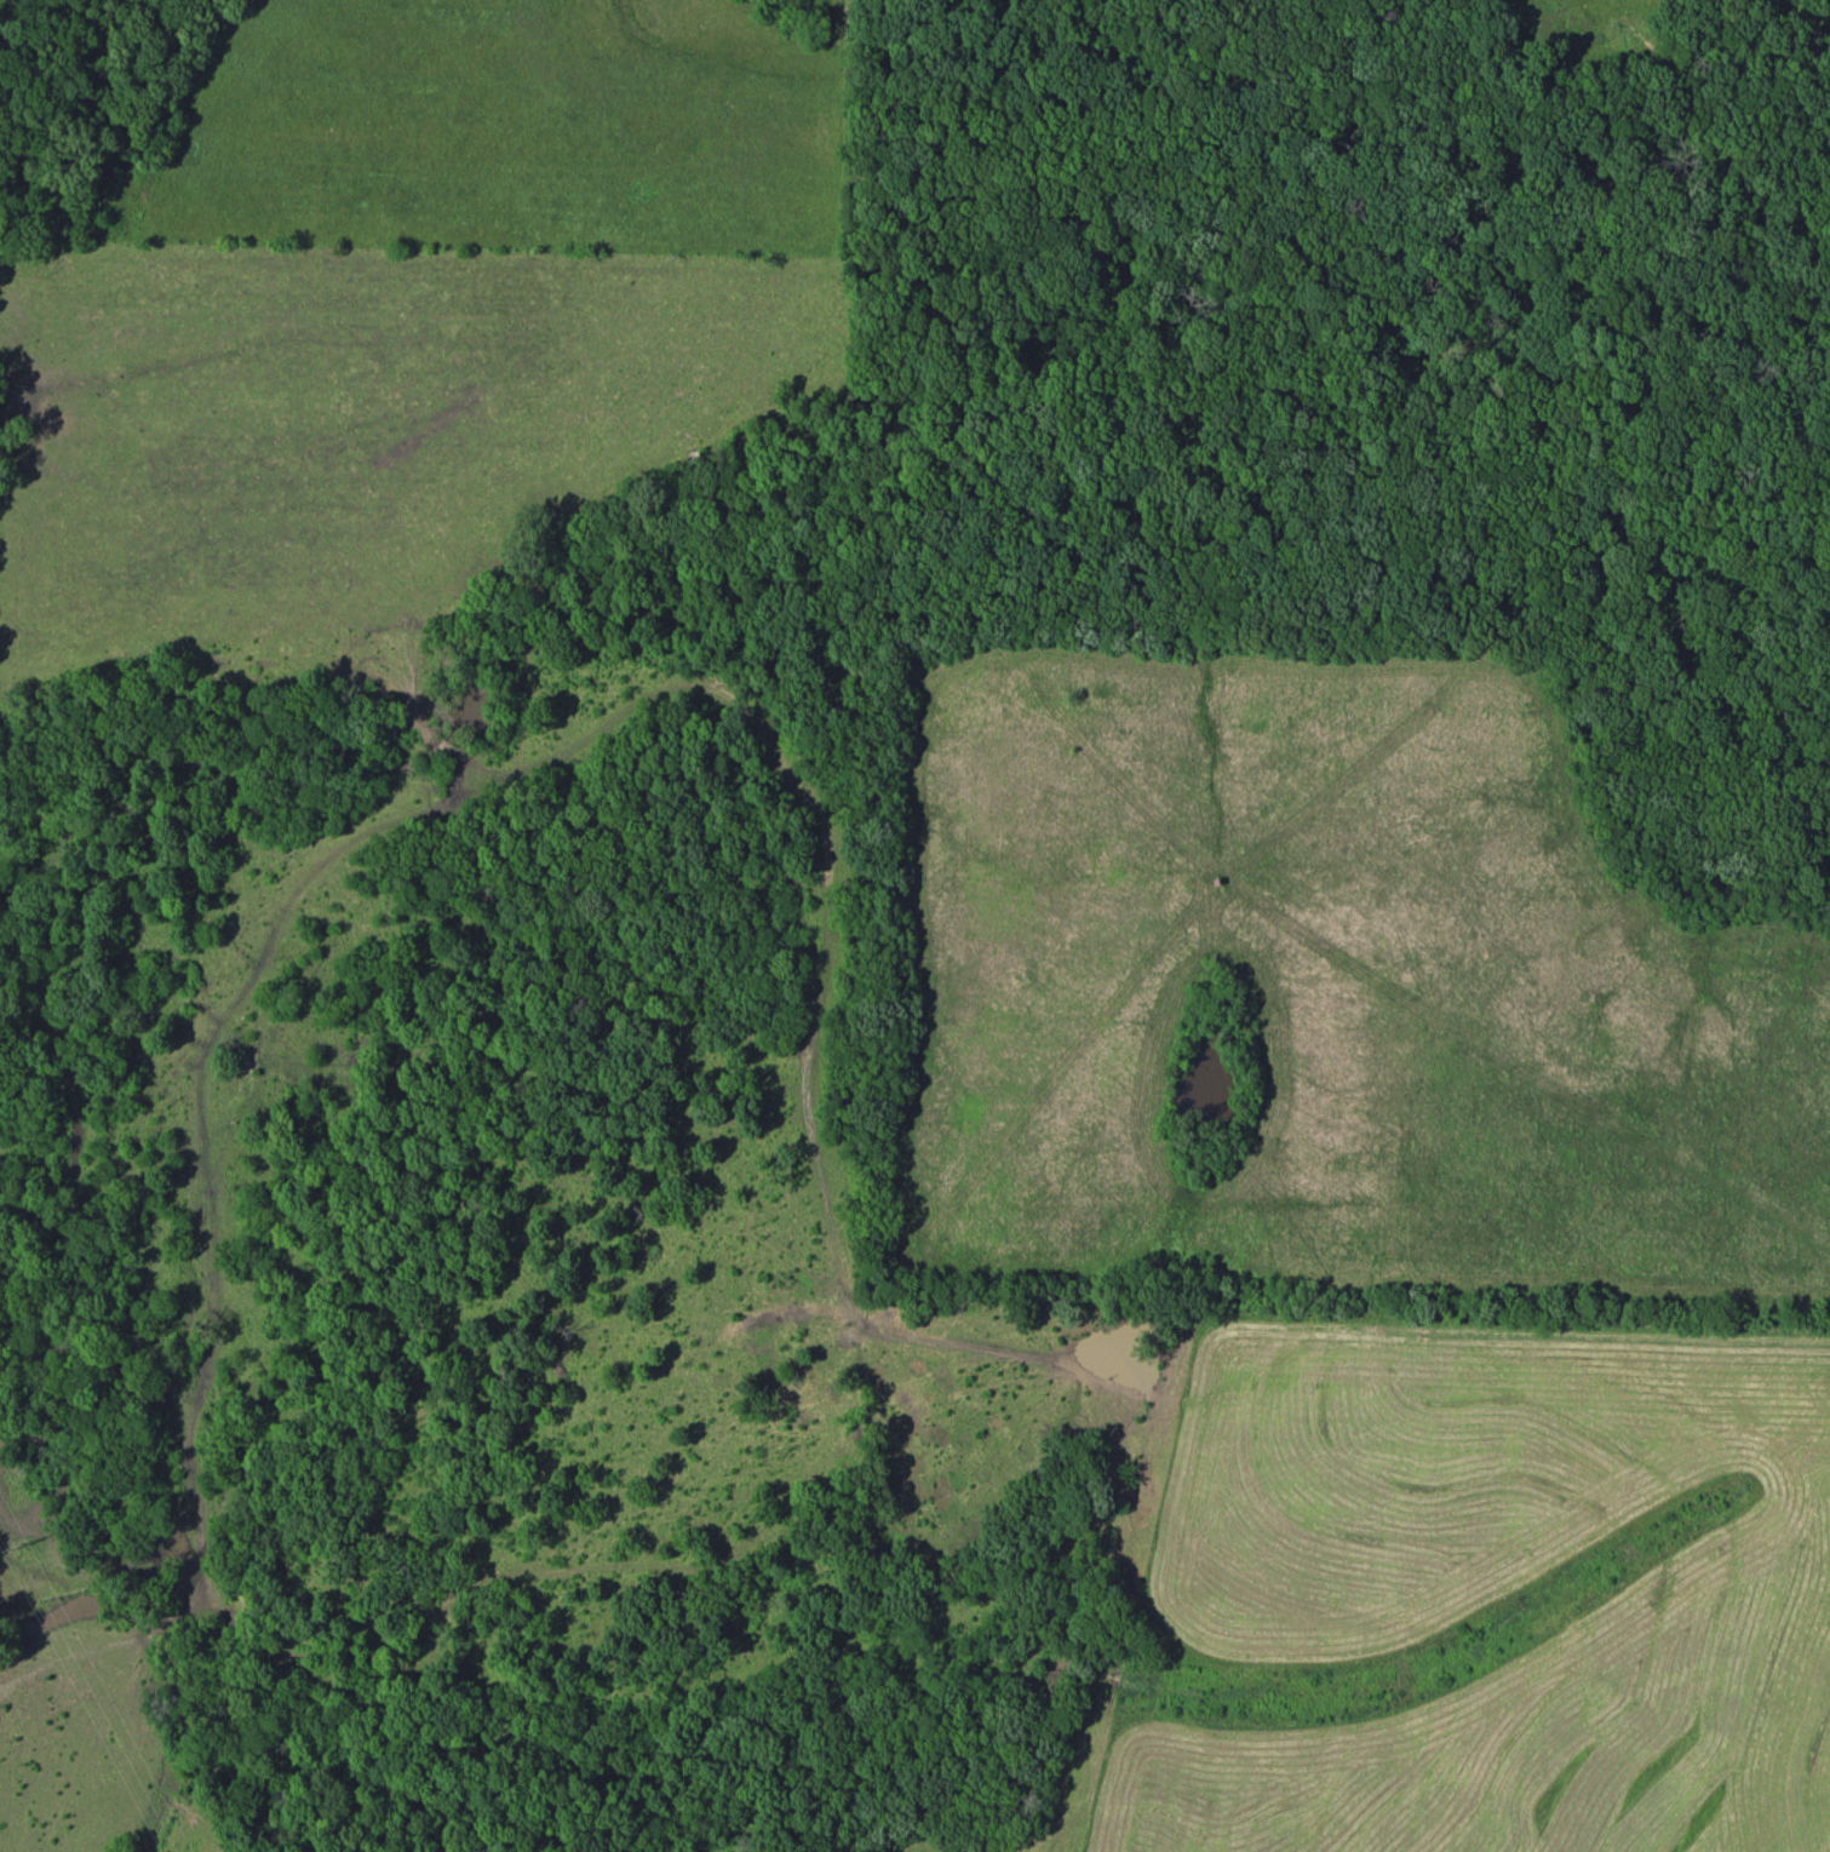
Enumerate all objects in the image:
power tower: (15, 1547)

